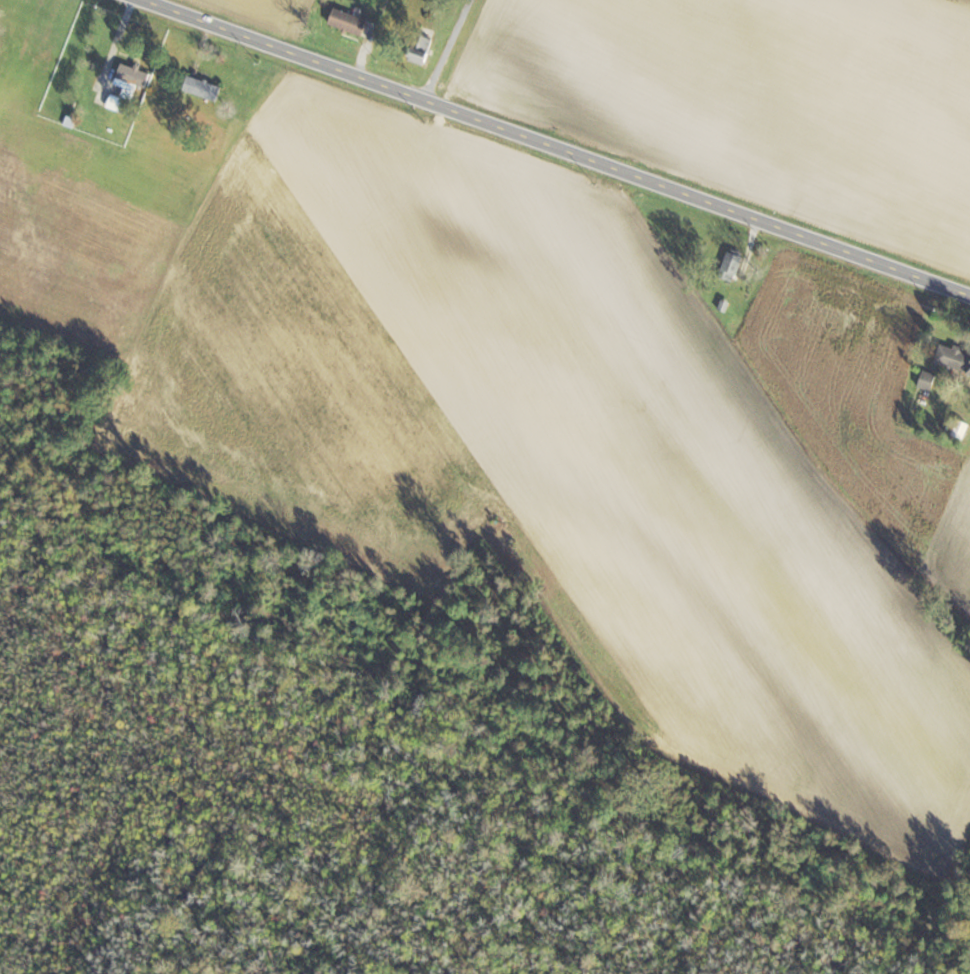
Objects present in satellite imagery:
building: (353, 20)
building: (425, 46)
road: (446, 49)
building: (136, 76)
building: (207, 87)
road: (561, 146)
building: (736, 261)
building: (956, 356)

